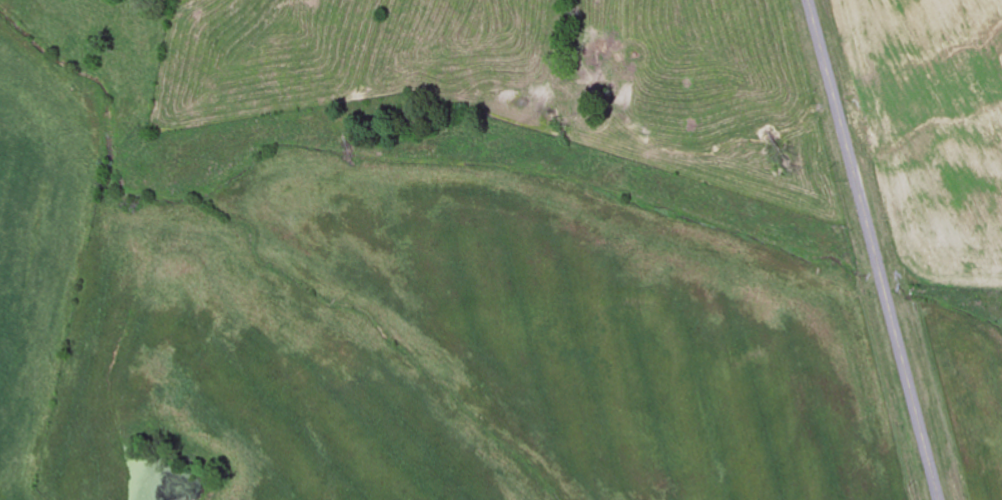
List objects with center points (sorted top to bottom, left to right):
road: (843, 145)
road: (908, 395)

